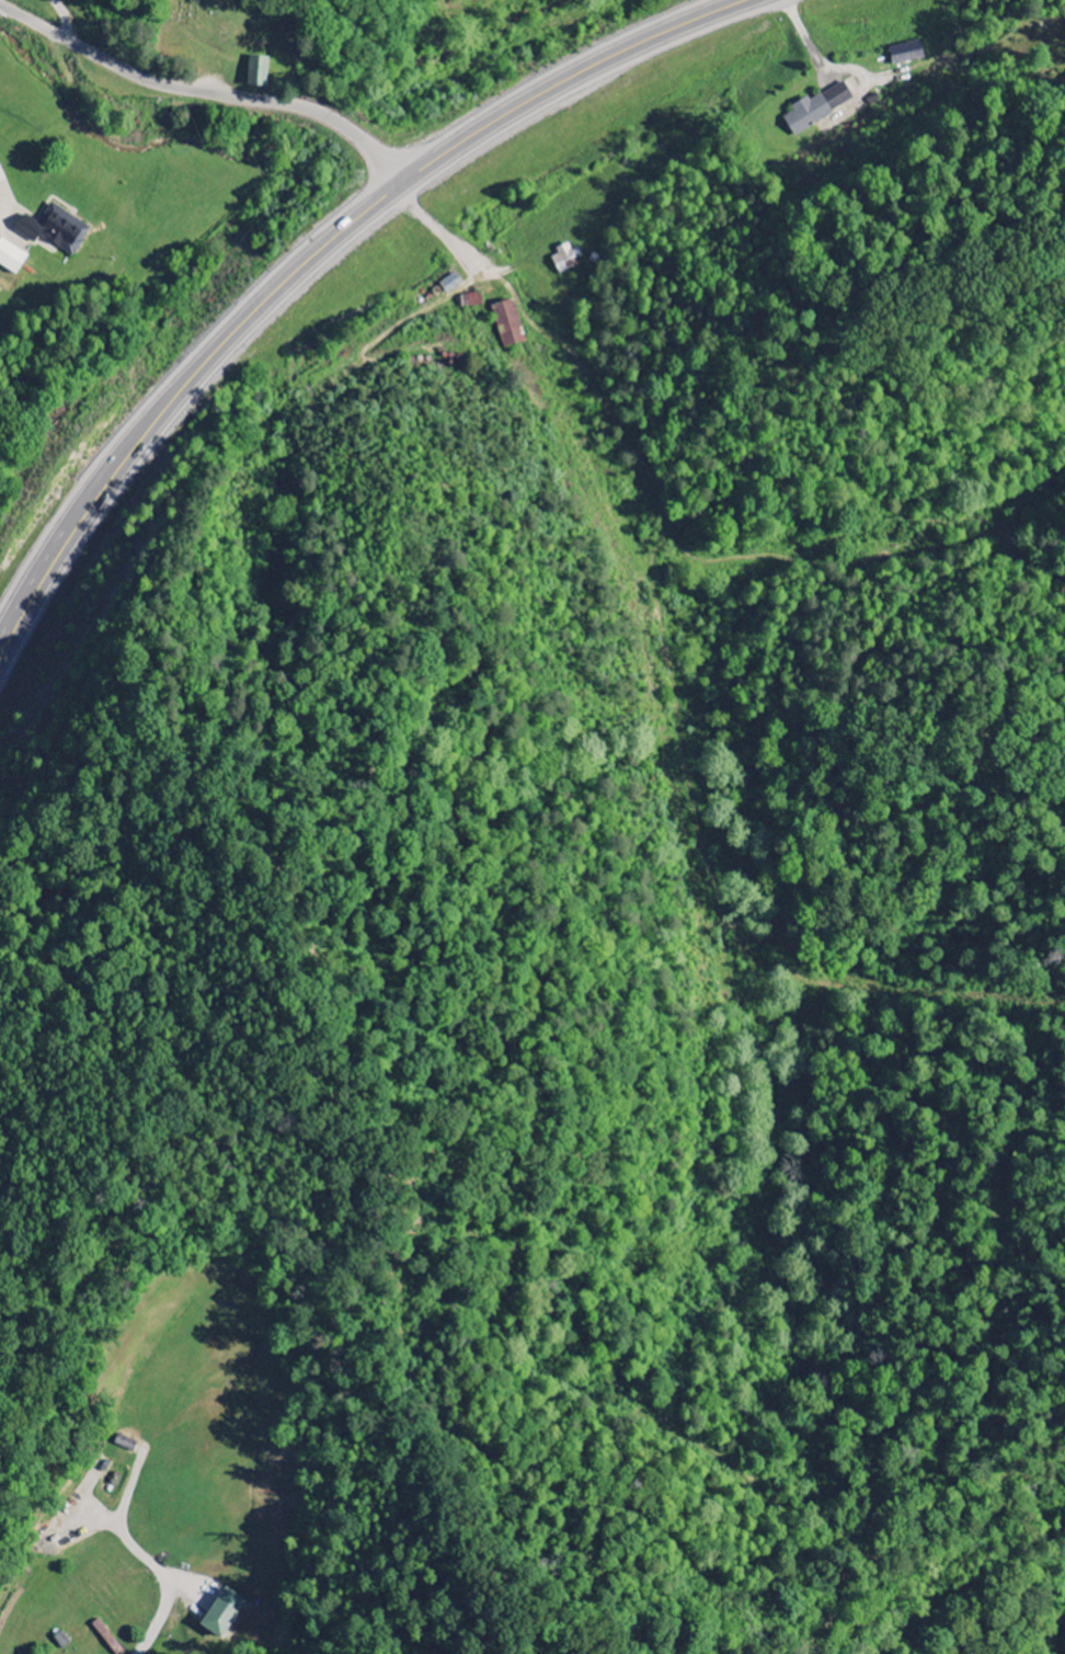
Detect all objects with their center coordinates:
building: (906, 53)
building: (256, 72)
road: (205, 94)
building: (818, 107)
building: (55, 229)
road: (312, 254)
building: (11, 255)
building: (565, 256)
building: (450, 282)
building: (472, 299)
building: (507, 322)
road: (142, 1555)
building: (221, 1613)

